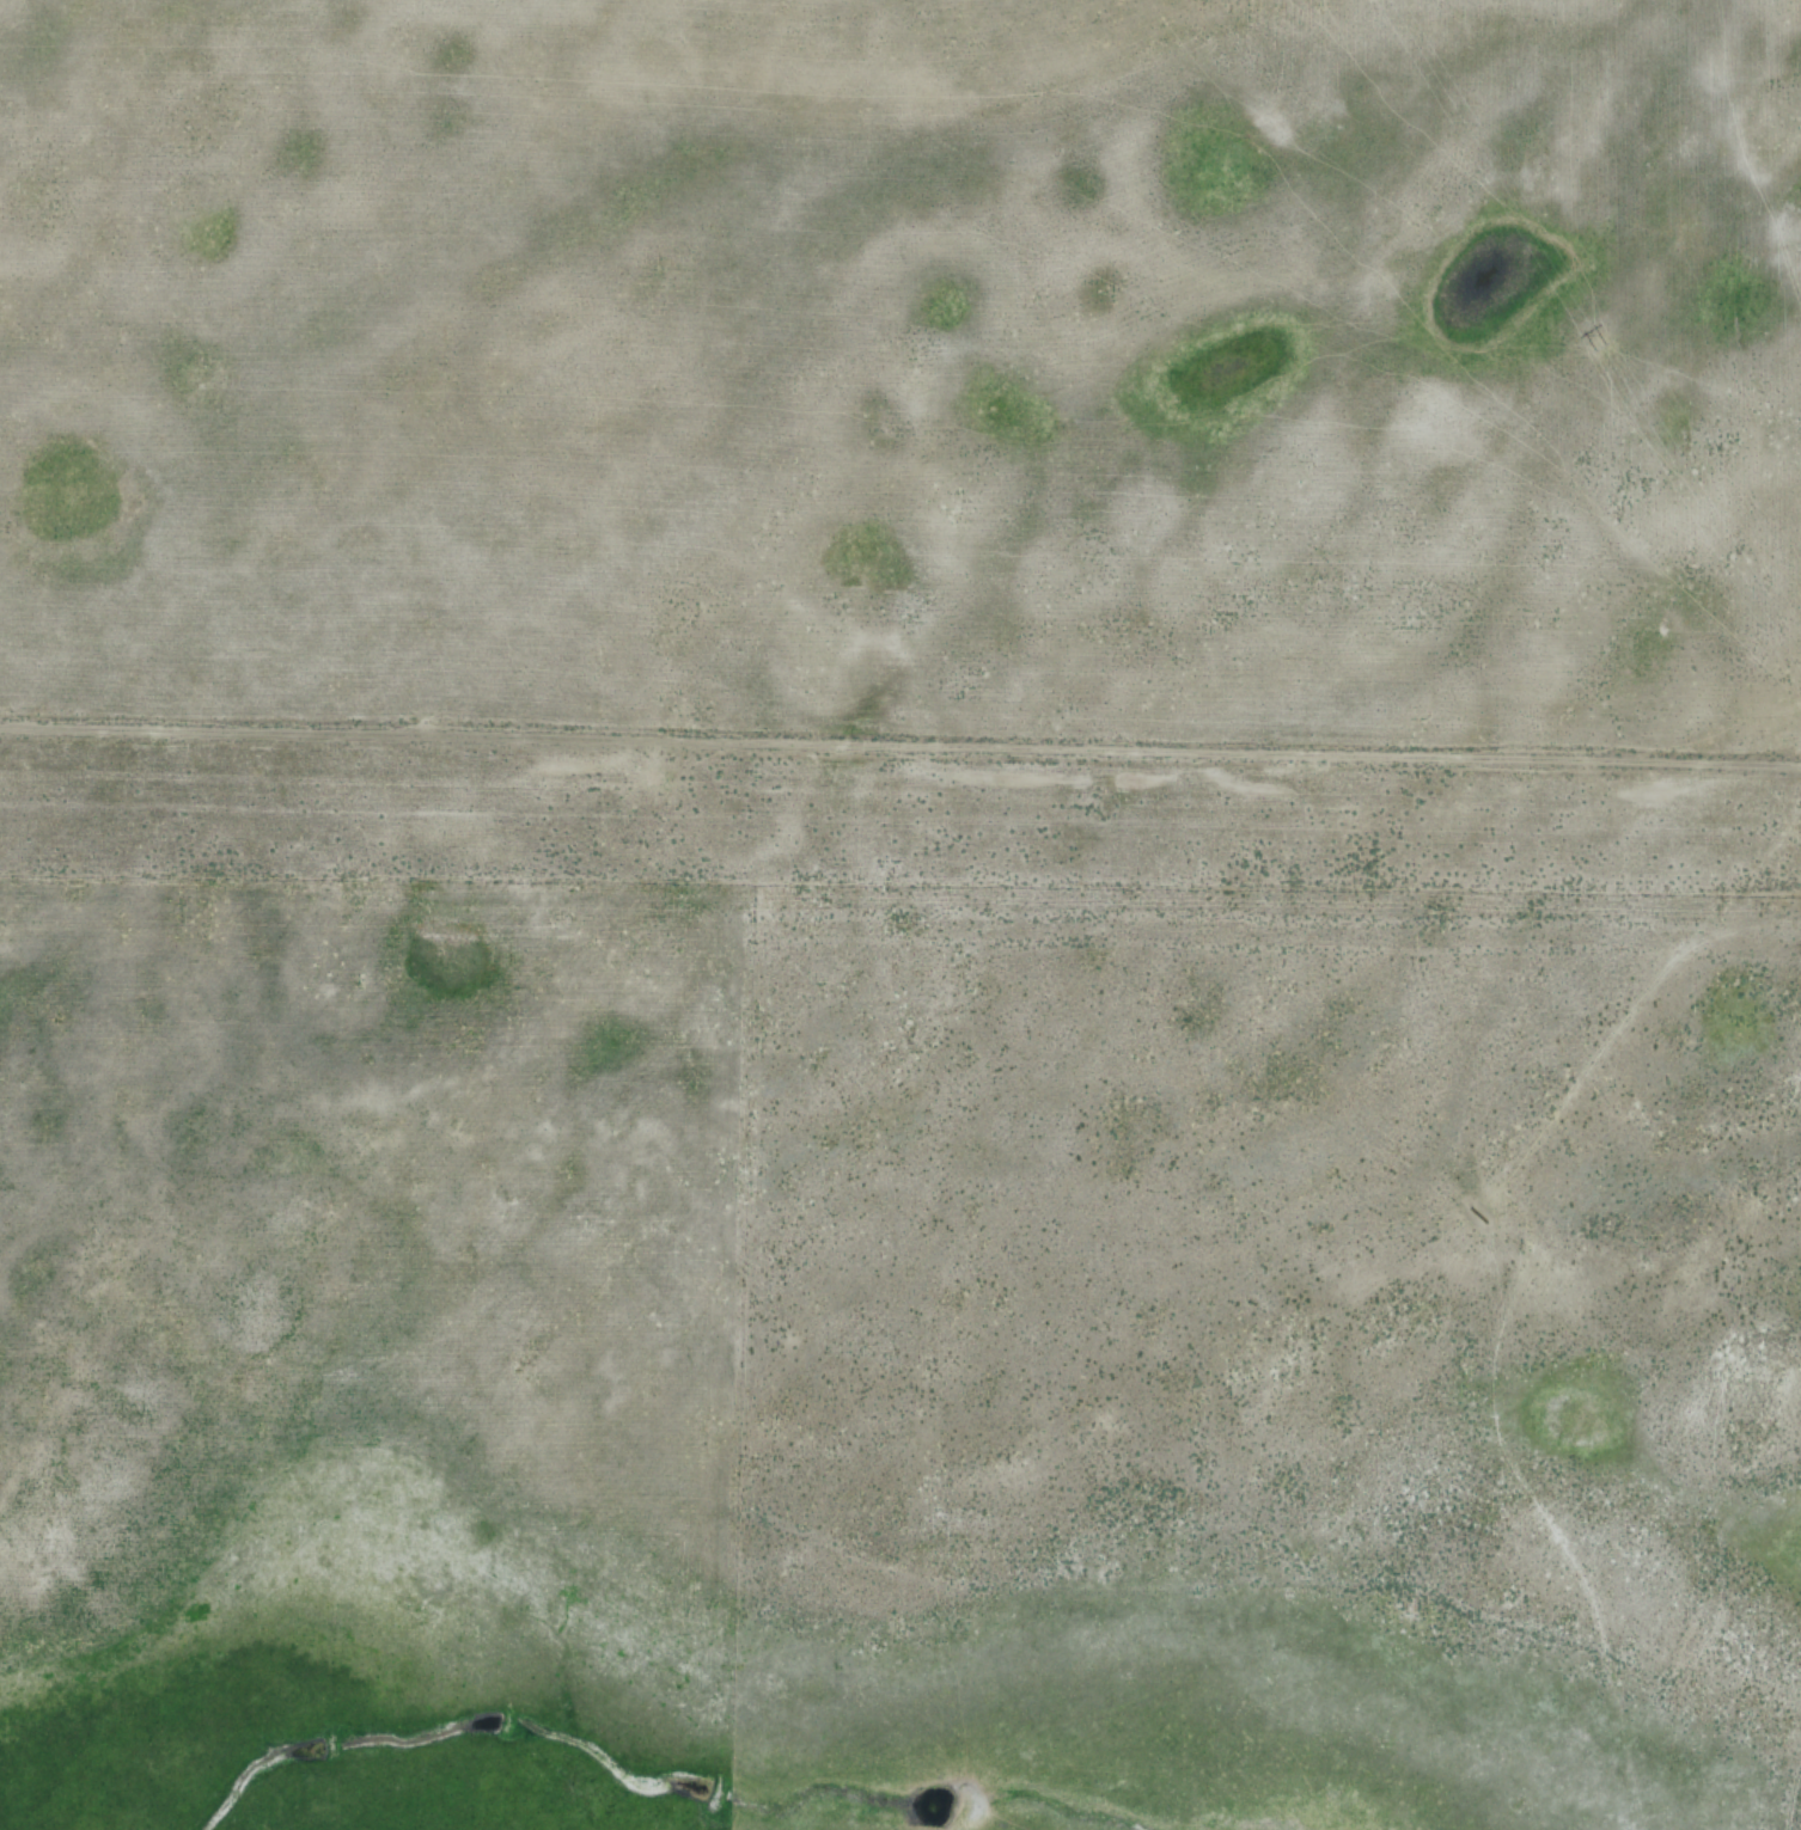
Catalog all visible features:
power tower: (1587, 343)
road: (900, 828)

